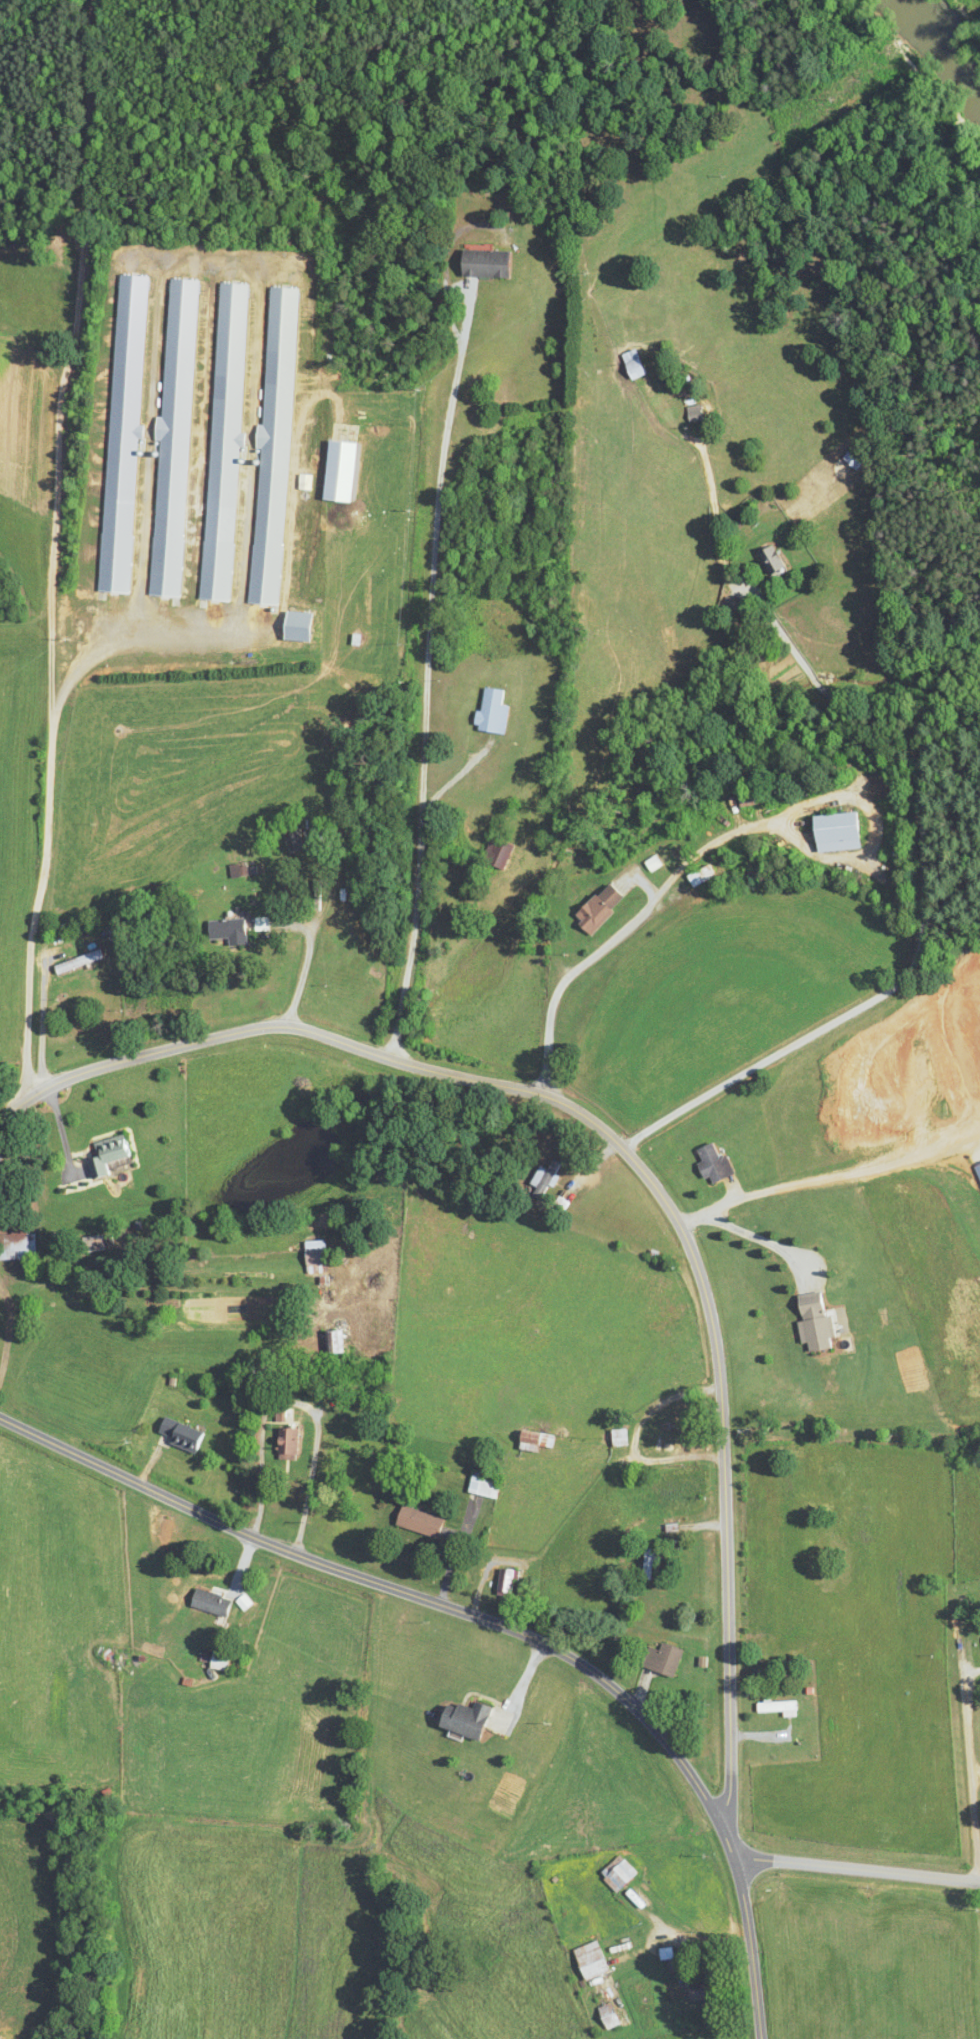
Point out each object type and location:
river: (950, 43)
building: (478, 264)
building: (629, 365)
building: (691, 414)
building: (119, 434)
building: (170, 440)
building: (221, 442)
building: (270, 446)
building: (768, 559)
road: (51, 565)
building: (726, 607)
building: (291, 626)
road: (424, 671)
building: (487, 713)
building: (831, 833)
building: (289, 838)
building: (493, 854)
building: (235, 871)
building: (697, 876)
road: (648, 905)
building: (595, 909)
road: (925, 913)
building: (224, 931)
building: (74, 963)
road: (297, 994)
building: (104, 1155)
road: (633, 1161)
building: (710, 1165)
road: (827, 1178)
building: (541, 1180)
building: (556, 1206)
building: (17, 1246)
building: (311, 1254)
building: (810, 1322)
building: (331, 1343)
building: (671, 1431)
building: (176, 1435)
road: (633, 1435)
building: (531, 1442)
building: (283, 1444)
building: (479, 1487)
building: (414, 1522)
building: (643, 1564)
building: (501, 1584)
building: (205, 1604)
road: (491, 1621)
building: (659, 1659)
building: (211, 1661)
building: (116, 1667)
building: (774, 1707)
building: (457, 1719)
road: (964, 1733)
road: (856, 1869)
building: (614, 1873)
building: (587, 1960)
building: (604, 2016)

